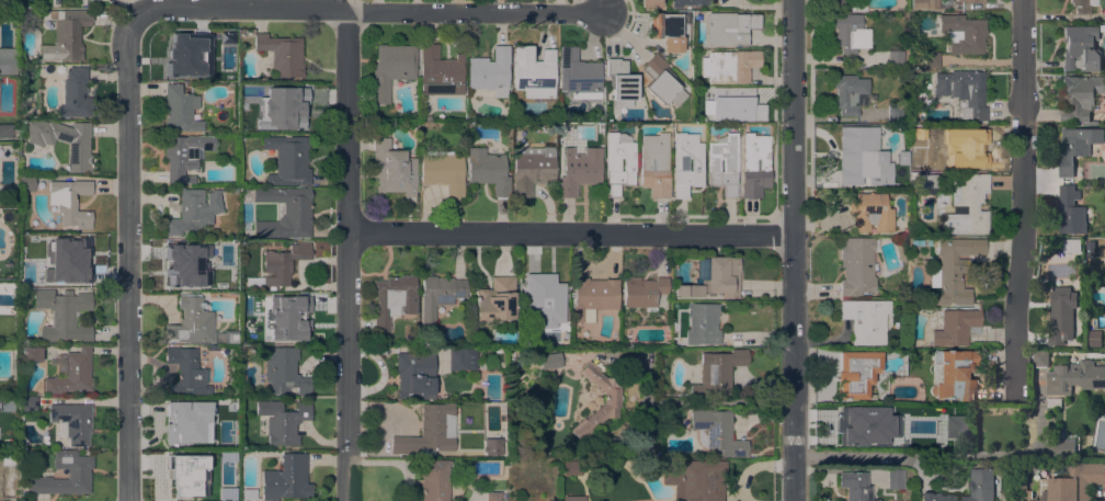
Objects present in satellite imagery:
building: (969, 1)
building: (687, 2)
building: (650, 3)
building: (925, 3)
building: (847, 4)
building: (1082, 5)
road: (366, 11)
building: (22, 14)
building: (730, 29)
building: (667, 31)
building: (850, 33)
building: (65, 34)
building: (962, 34)
building: (1081, 47)
building: (282, 53)
building: (191, 54)
building: (895, 57)
building: (931, 59)
building: (8, 60)
building: (729, 66)
building: (390, 69)
building: (490, 71)
building: (440, 72)
building: (203, 73)
building: (534, 73)
building: (578, 75)
building: (620, 82)
building: (661, 82)
building: (962, 91)
building: (847, 93)
building: (75, 94)
building: (1080, 96)
building: (734, 105)
building: (285, 110)
building: (426, 110)
building: (180, 111)
building: (895, 113)
building: (411, 125)
building: (913, 129)
building: (5, 132)
building: (960, 144)
building: (1075, 146)
building: (78, 150)
building: (184, 156)
building: (863, 158)
building: (287, 160)
building: (618, 162)
building: (686, 163)
building: (654, 164)
building: (722, 164)
building: (754, 164)
building: (532, 169)
building: (392, 170)
building: (443, 170)
building: (579, 170)
building: (488, 171)
building: (926, 180)
building: (26, 183)
building: (69, 202)
road: (1025, 202)
building: (966, 205)
building: (296, 209)
building: (1071, 210)
building: (192, 212)
building: (870, 213)
building: (916, 228)
road: (569, 234)
building: (1071, 246)
road: (793, 250)
road: (345, 254)
road: (126, 260)
building: (79, 261)
building: (2, 263)
building: (280, 265)
building: (856, 265)
building: (179, 266)
building: (956, 270)
building: (713, 278)
building: (642, 292)
building: (438, 295)
building: (593, 296)
building: (392, 299)
building: (495, 300)
building: (546, 300)
building: (910, 301)
building: (62, 314)
building: (1061, 314)
building: (285, 318)
building: (865, 320)
building: (702, 323)
building: (196, 326)
building: (955, 327)
building: (1093, 338)
building: (212, 348)
building: (32, 354)
building: (1040, 357)
building: (462, 358)
building: (550, 358)
building: (510, 362)
building: (517, 362)
building: (186, 372)
building: (717, 372)
building: (284, 373)
building: (855, 373)
building: (72, 374)
building: (414, 375)
building: (953, 375)
building: (1074, 375)
building: (231, 390)
building: (612, 402)
building: (30, 405)
building: (283, 421)
building: (72, 422)
building: (183, 422)
building: (955, 425)
building: (430, 428)
building: (869, 430)
building: (716, 432)
building: (914, 439)
building: (492, 446)
building: (1063, 447)
road: (848, 456)
building: (607, 463)
building: (78, 472)
building: (1025, 474)
building: (286, 478)
building: (695, 478)
building: (895, 479)
building: (190, 480)
building: (434, 480)
building: (1072, 482)
building: (855, 486)
building: (969, 488)
building: (249, 494)
building: (492, 497)
building: (574, 499)

